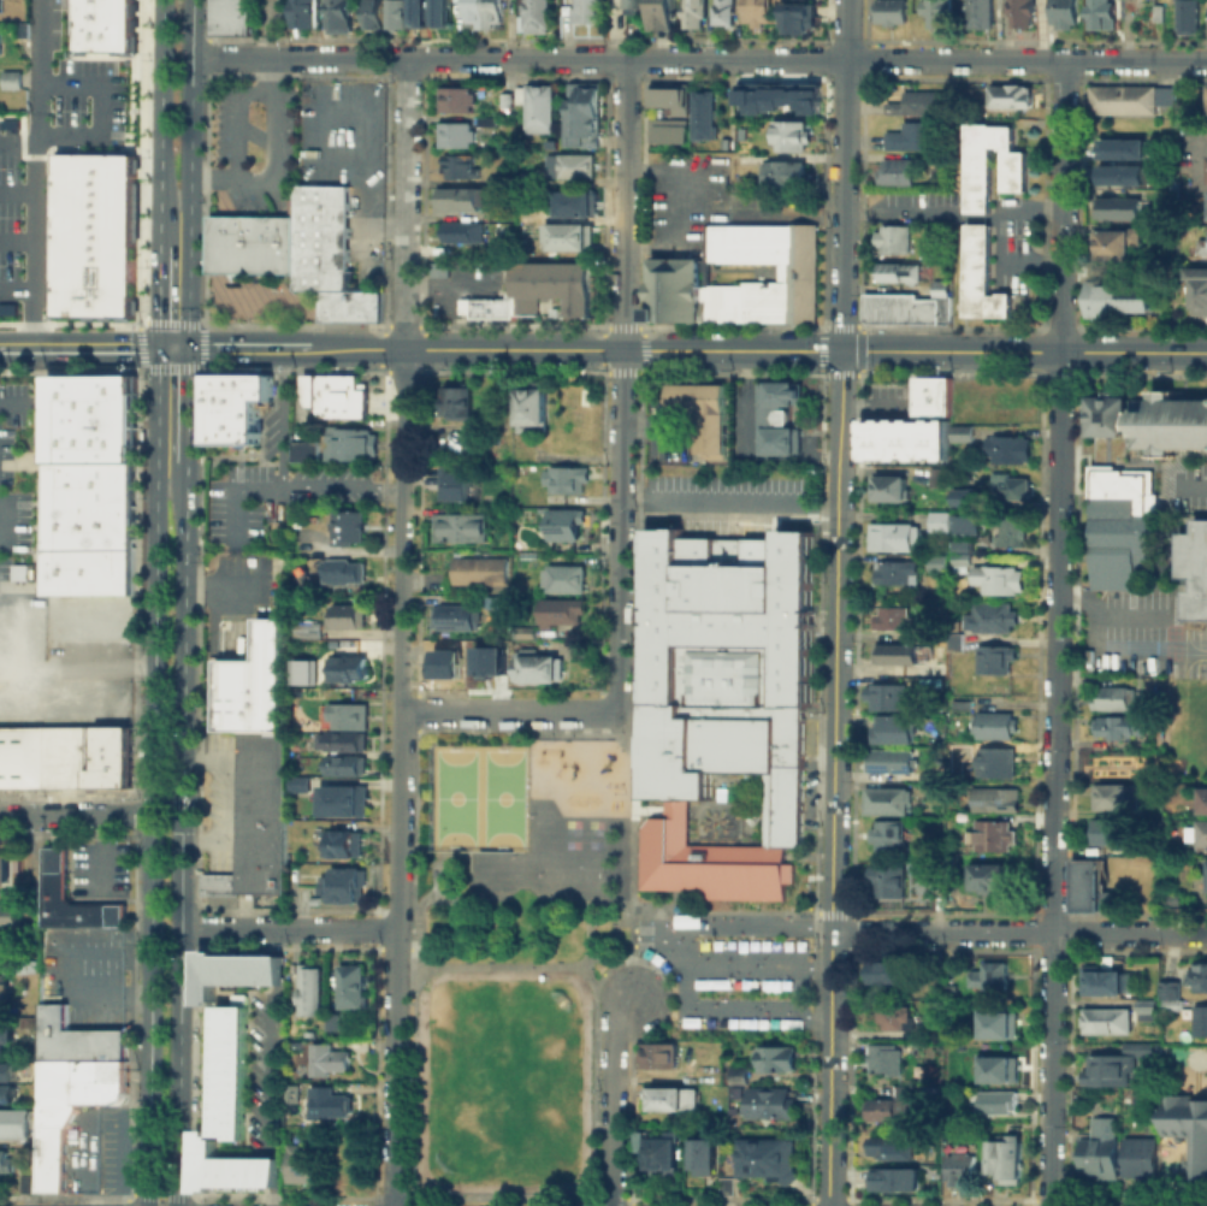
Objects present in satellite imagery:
building: (227, 1)
building: (632, 2)
building: (416, 10)
building: (585, 10)
building: (227, 11)
building: (439, 11)
building: (663, 11)
building: (722, 11)
building: (889, 11)
building: (935, 11)
building: (301, 12)
building: (481, 12)
building: (692, 12)
building: (755, 12)
building: (1019, 12)
building: (1063, 12)
building: (371, 13)
building: (798, 13)
building: (977, 13)
building: (1099, 13)
building: (395, 14)
building: (536, 14)
building: (338, 16)
building: (1183, 16)
building: (99, 24)
building: (227, 25)
building: (0, 43)
road: (698, 59)
building: (10, 78)
building: (516, 93)
building: (670, 95)
building: (1008, 95)
building: (1129, 96)
building: (454, 97)
building: (777, 97)
building: (1206, 99)
building: (917, 100)
road: (99, 107)
building: (538, 107)
building: (581, 112)
building: (702, 113)
building: (0, 114)
road: (22, 117)
road: (235, 117)
road: (160, 120)
building: (483, 120)
building: (667, 126)
building: (452, 132)
building: (789, 134)
building: (911, 135)
road: (17, 142)
building: (1120, 147)
road: (270, 156)
building: (568, 165)
building: (457, 166)
building: (978, 169)
building: (1206, 169)
building: (894, 170)
road: (34, 173)
road: (189, 173)
building: (782, 173)
building: (1120, 173)
road: (844, 176)
building: (492, 178)
building: (522, 179)
road: (17, 190)
building: (457, 197)
building: (572, 202)
road: (623, 205)
building: (1113, 208)
building: (250, 229)
building: (462, 230)
building: (89, 233)
building: (567, 235)
building: (892, 237)
road: (17, 240)
building: (1112, 242)
building: (1201, 243)
building: (327, 254)
building: (249, 258)
building: (437, 267)
building: (898, 270)
building: (676, 271)
building: (981, 274)
building: (1196, 276)
road: (450, 284)
building: (550, 284)
road: (17, 288)
road: (158, 295)
building: (1129, 295)
building: (1097, 296)
building: (1199, 300)
building: (2, 306)
building: (486, 306)
building: (907, 306)
building: (552, 311)
road: (78, 348)
traffic signals: (158, 348)
road: (172, 348)
traffic signals: (188, 348)
road: (295, 348)
road: (732, 350)
traffic signals: (841, 351)
road: (1134, 353)
building: (116, 389)
building: (333, 392)
building: (930, 394)
road: (16, 401)
building: (451, 401)
road: (185, 403)
building: (232, 404)
building: (528, 408)
building: (705, 412)
building: (1106, 414)
building: (776, 415)
building: (83, 419)
building: (1170, 422)
building: (958, 431)
building: (348, 442)
building: (891, 443)
road: (745, 447)
building: (1005, 447)
building: (302, 451)
building: (1118, 473)
building: (934, 474)
road: (278, 477)
building: (563, 477)
building: (450, 481)
building: (1007, 485)
road: (1191, 485)
building: (888, 486)
road: (232, 487)
building: (960, 496)
road: (727, 498)
parking lot: (728, 502)
building: (935, 516)
building: (562, 521)
building: (962, 522)
building: (88, 525)
building: (343, 525)
building: (457, 526)
road: (619, 528)
building: (1005, 528)
building: (889, 536)
building: (1119, 540)
building: (958, 545)
building: (958, 558)
building: (935, 560)
building: (1194, 568)
building: (477, 569)
building: (342, 571)
building: (894, 571)
building: (562, 577)
building: (995, 578)
building: (558, 608)
building: (344, 614)
building: (452, 615)
building: (990, 615)
road: (1129, 615)
building: (891, 616)
building: (303, 627)
building: (520, 628)
road: (398, 631)
road: (1057, 633)
building: (917, 634)
building: (951, 643)
building: (930, 648)
road: (1108, 648)
building: (892, 654)
building: (993, 656)
building: (468, 660)
building: (532, 664)
building: (727, 664)
road: (105, 666)
building: (344, 667)
building: (302, 669)
road: (29, 670)
building: (496, 678)
building: (250, 681)
building: (883, 696)
building: (1112, 697)
building: (957, 704)
road: (507, 711)
building: (345, 715)
building: (990, 723)
building: (891, 725)
building: (1116, 726)
building: (344, 739)
building: (31, 755)
building: (60, 755)
building: (96, 755)
building: (119, 755)
building: (6, 756)
building: (20, 756)
building: (888, 759)
building: (993, 761)
building: (344, 763)
road: (152, 776)
road: (832, 778)
park: (454, 794)
park: (502, 794)
building: (1112, 794)
park: (479, 796)
building: (336, 797)
building: (884, 799)
building: (992, 799)
building: (1203, 799)
road: (166, 803)
road: (629, 804)
road: (75, 814)
building: (256, 816)
building: (1108, 830)
road: (181, 833)
building: (884, 833)
building: (1200, 833)
building: (992, 834)
building: (339, 839)
building: (667, 849)
building: (2, 868)
park: (514, 868)
building: (739, 870)
building: (53, 873)
park: (570, 873)
building: (983, 874)
building: (1206, 876)
building: (884, 879)
building: (341, 882)
building: (1088, 886)
building: (1165, 897)
road: (593, 905)
road: (747, 912)
building: (2, 914)
road: (671, 917)
road: (289, 929)
road: (1018, 930)
road: (674, 941)
park: (515, 947)
road: (519, 963)
road: (646, 965)
building: (233, 969)
building: (887, 970)
parking lot: (728, 975)
building: (988, 975)
building: (1197, 976)
building: (1102, 977)
building: (350, 985)
building: (308, 988)
building: (1, 991)
building: (1168, 995)
building: (1143, 1005)
building: (897, 1016)
road: (733, 1017)
building: (331, 1019)
building: (1102, 1019)
building: (1199, 1019)
building: (996, 1023)
park: (517, 1033)
building: (5, 1035)
building: (657, 1052)
building: (775, 1057)
building: (329, 1058)
building: (882, 1058)
building: (1116, 1062)
road: (265, 1066)
building: (996, 1068)
building: (8, 1070)
building: (229, 1070)
building: (69, 1081)
building: (8, 1092)
building: (670, 1096)
road: (611, 1099)
building: (994, 1100)
building: (769, 1101)
building: (331, 1104)
building: (887, 1104)
park: (492, 1119)
building: (13, 1123)
building: (891, 1143)
building: (662, 1148)
building: (1099, 1153)
building: (703, 1155)
building: (1002, 1155)
building: (768, 1157)
building: (1138, 1157)
building: (5, 1160)
building: (1197, 1163)
building: (301, 1164)
building: (230, 1166)
building: (957, 1167)
building: (888, 1175)
road: (161, 1196)

